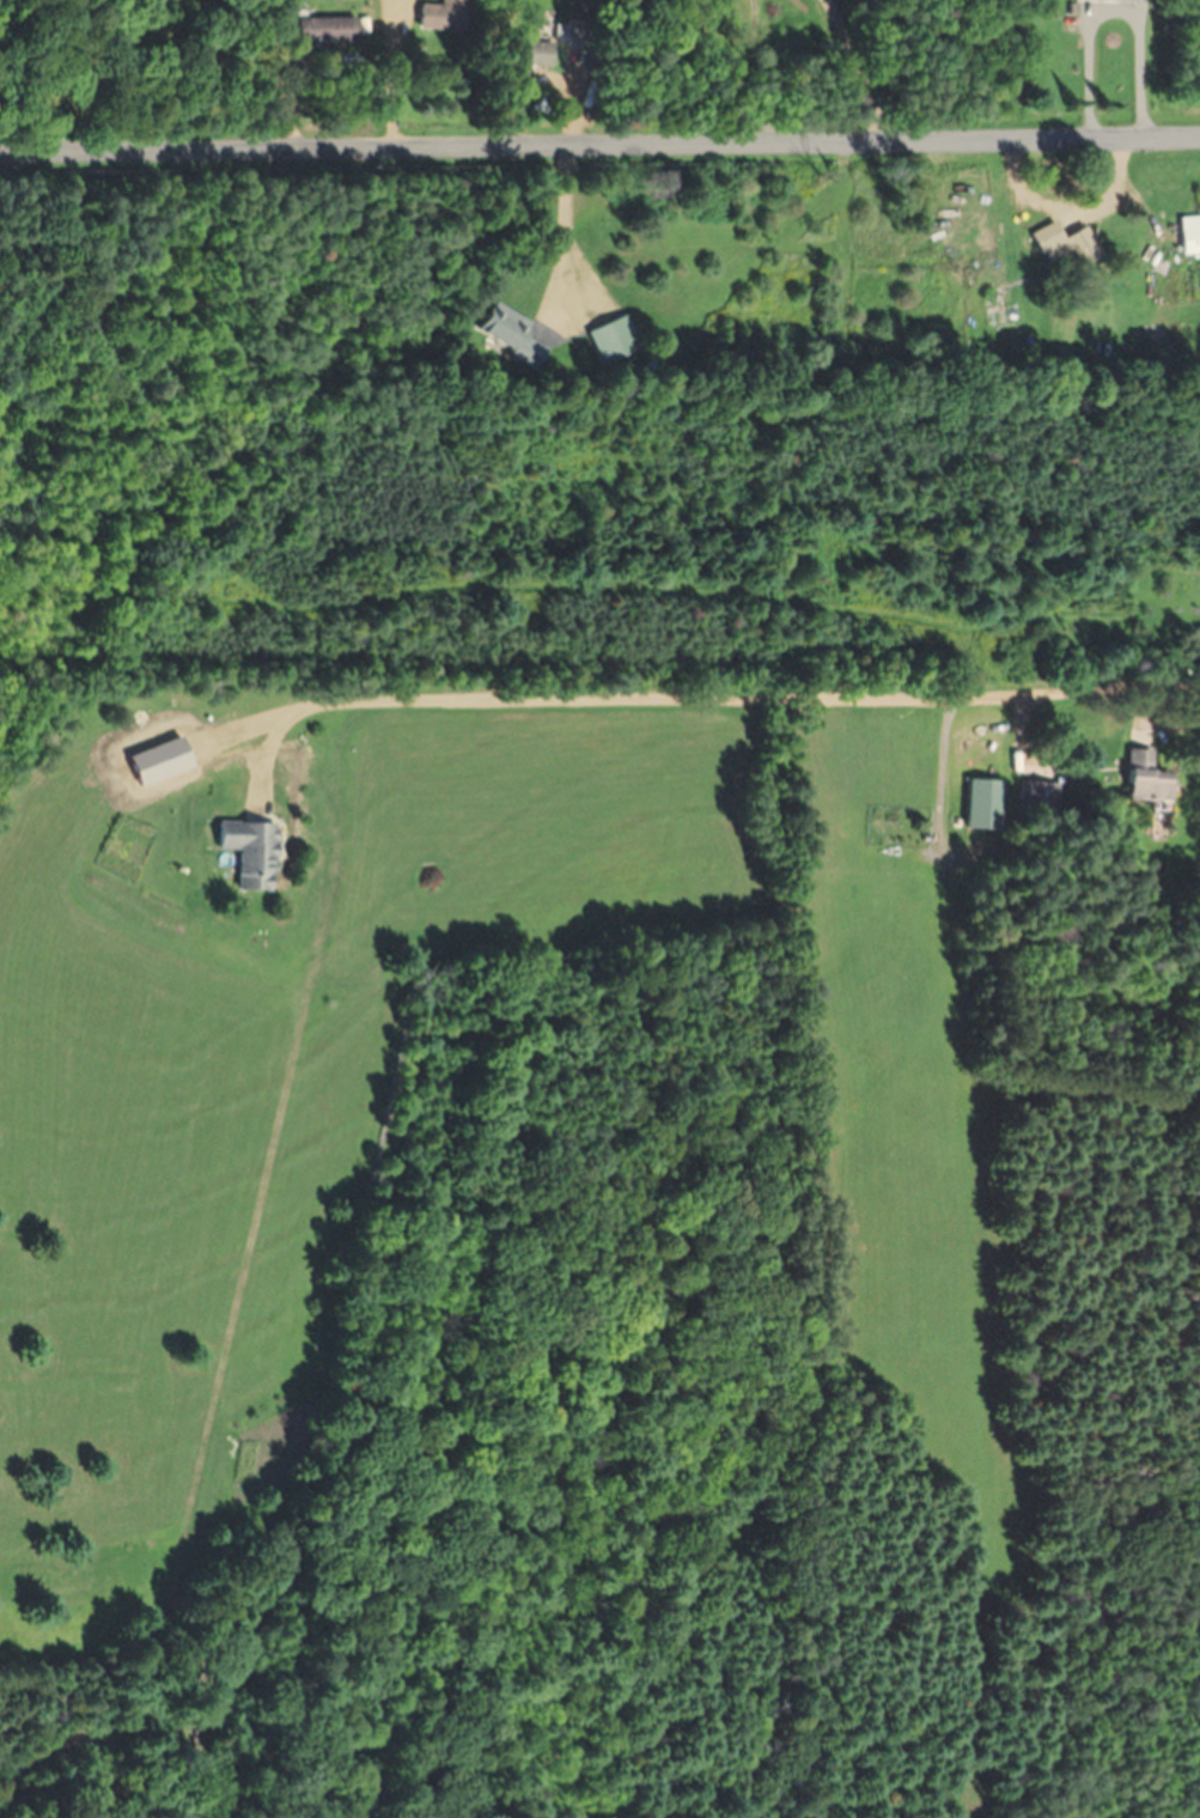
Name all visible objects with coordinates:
building: (1113, 0)
building: (439, 17)
building: (321, 31)
building: (530, 54)
road: (599, 142)
building: (1188, 236)
building: (1062, 244)
building: (505, 334)
building: (613, 340)
road: (690, 700)
road: (1163, 728)
building: (1139, 777)
building: (1037, 796)
building: (245, 852)
building: (224, 1709)

